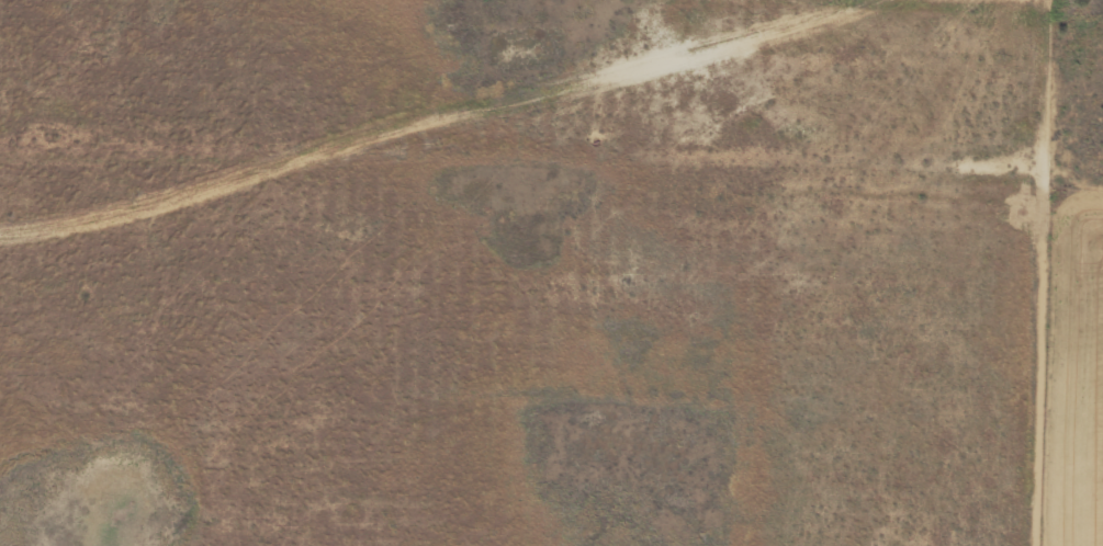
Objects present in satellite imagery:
road: (669, 179)

